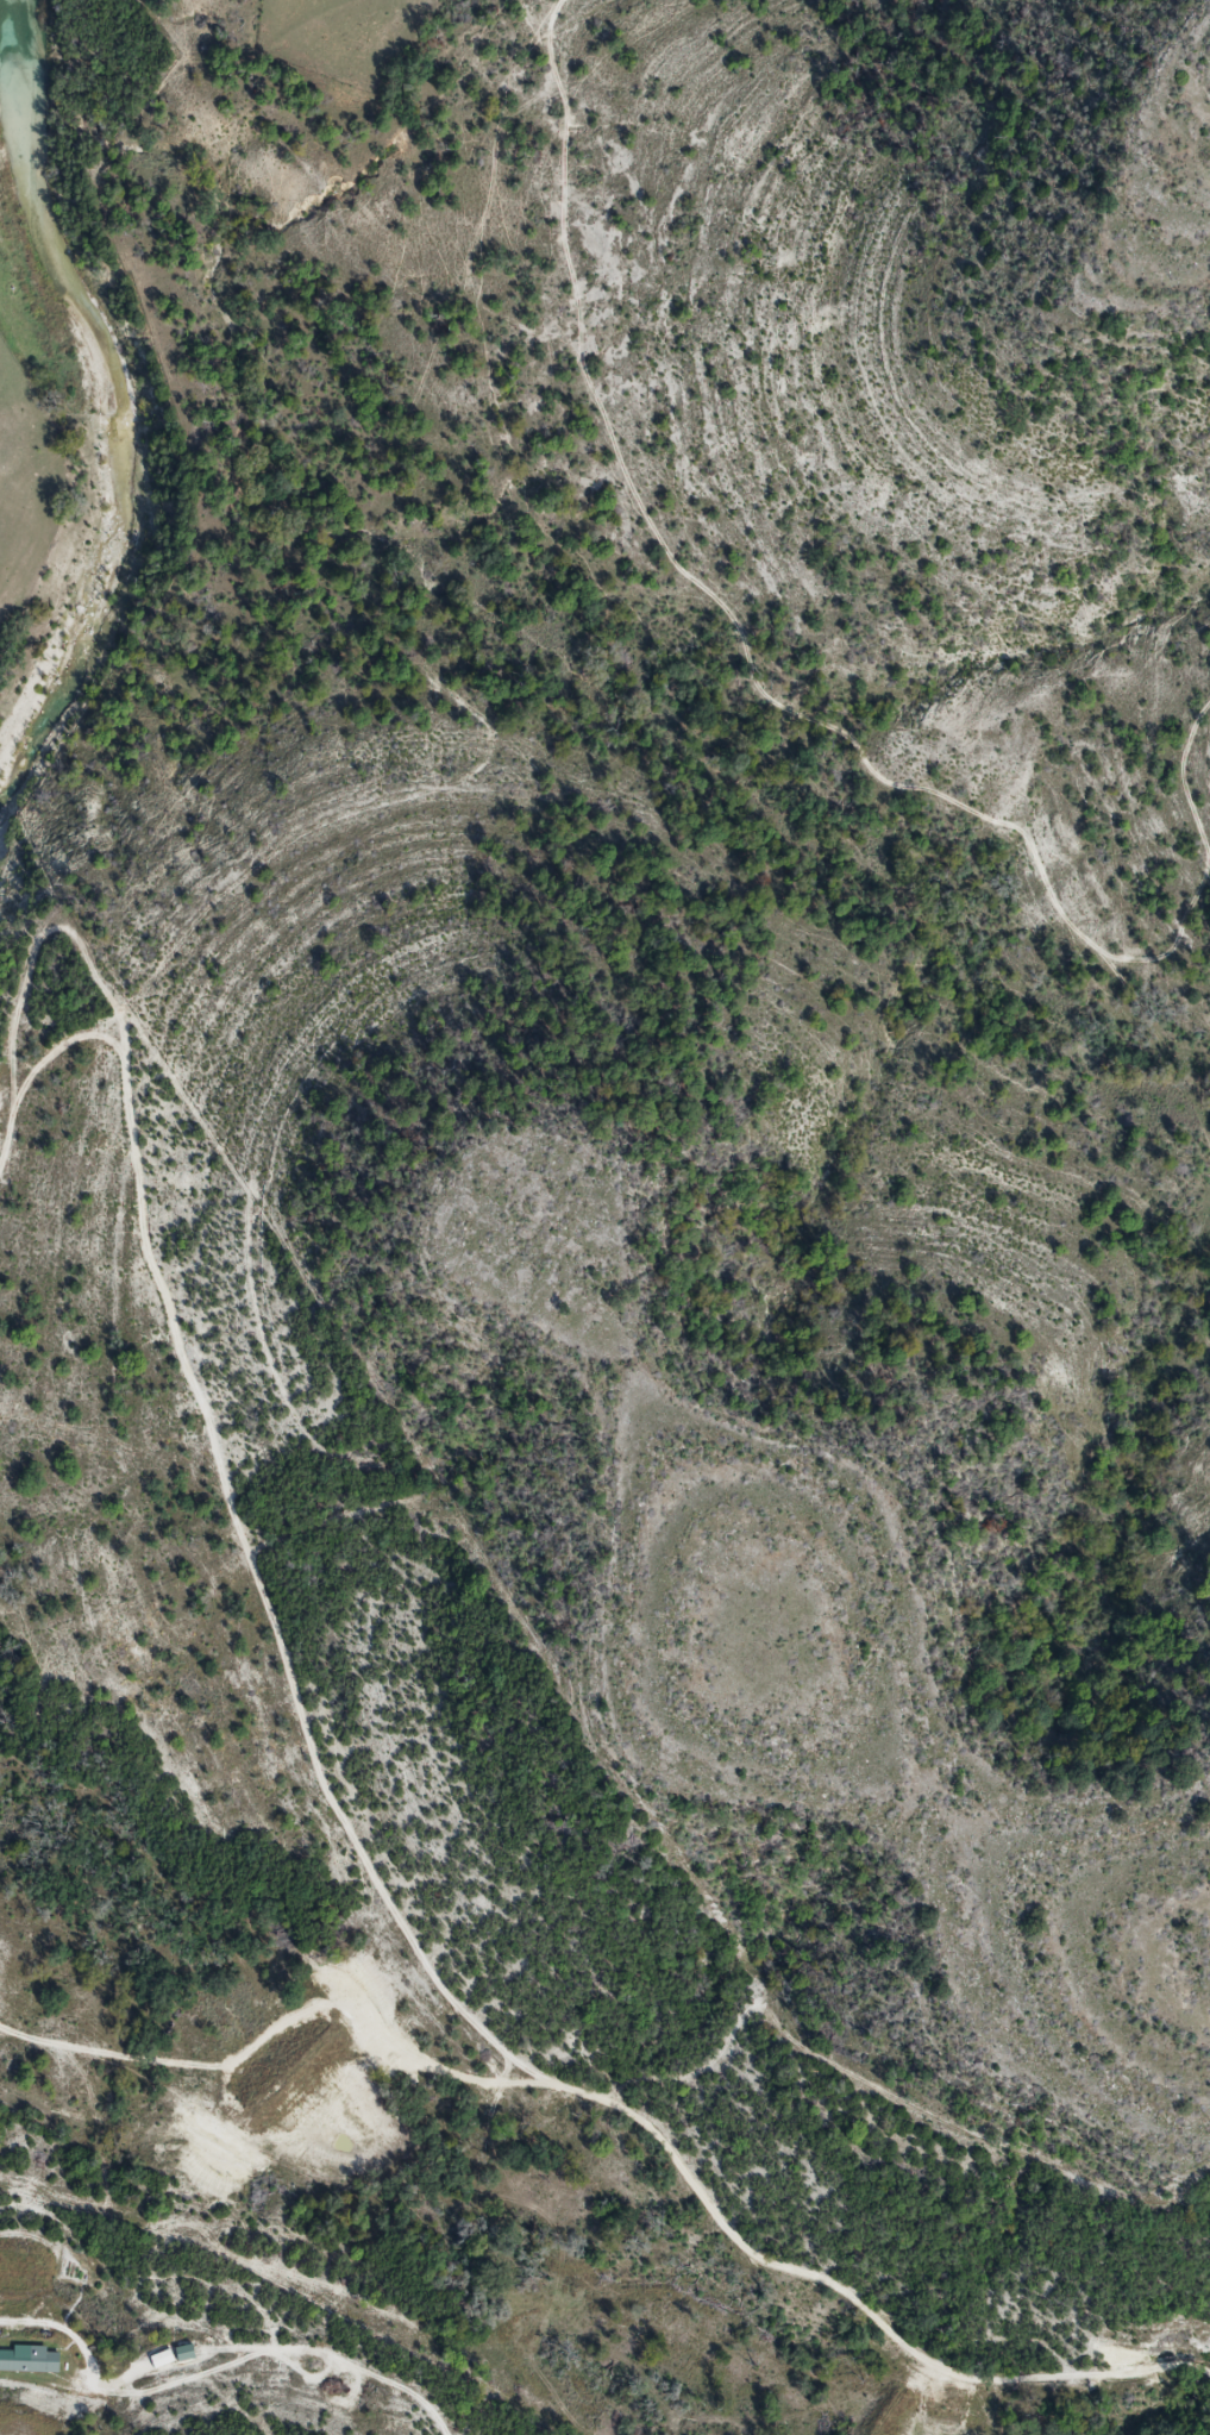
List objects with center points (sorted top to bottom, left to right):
road: (42, 2318)
building: (184, 2354)
building: (29, 2361)
building: (162, 2361)

